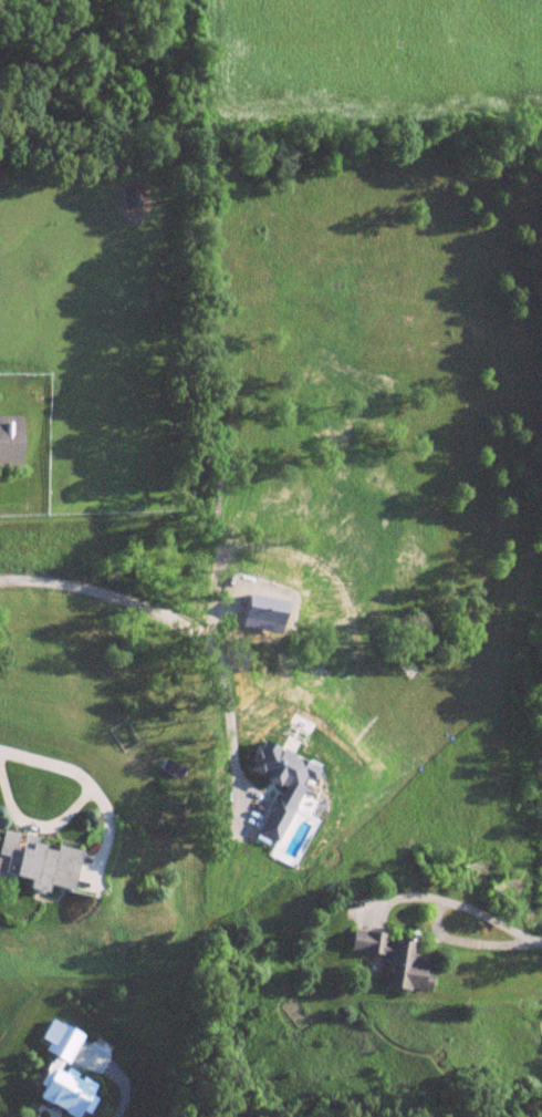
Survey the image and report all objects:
building: (132, 197)
building: (12, 444)
road: (184, 612)
building: (174, 768)
road: (76, 801)
road: (105, 828)
building: (42, 860)
road: (458, 899)
building: (399, 959)
road: (126, 1092)

